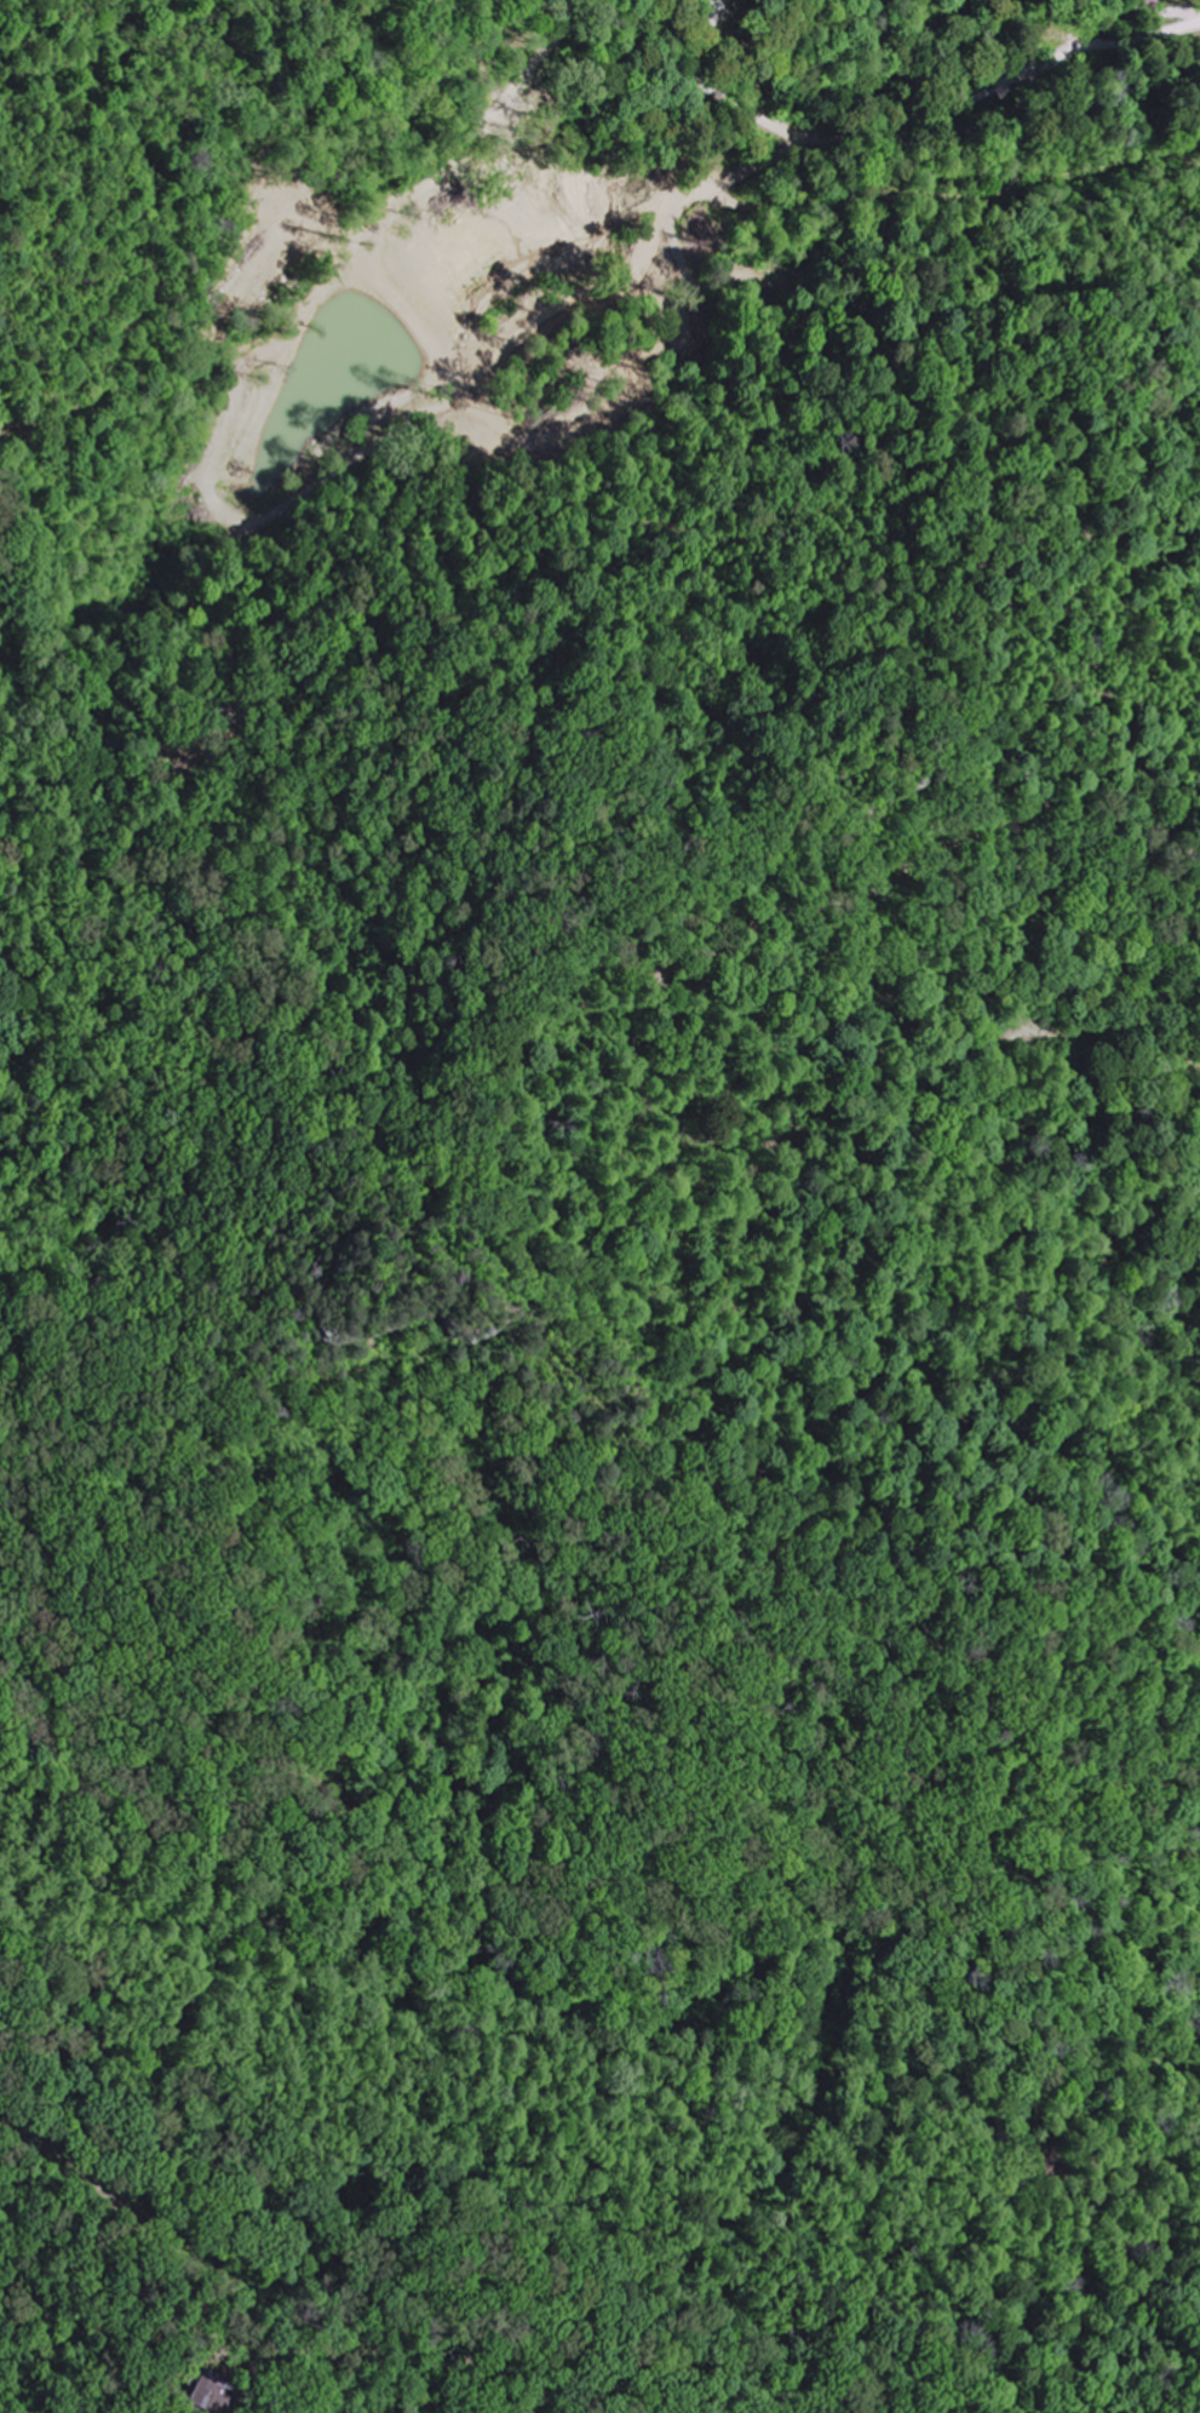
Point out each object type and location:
road: (708, 24)
road: (935, 113)
building: (213, 2394)

